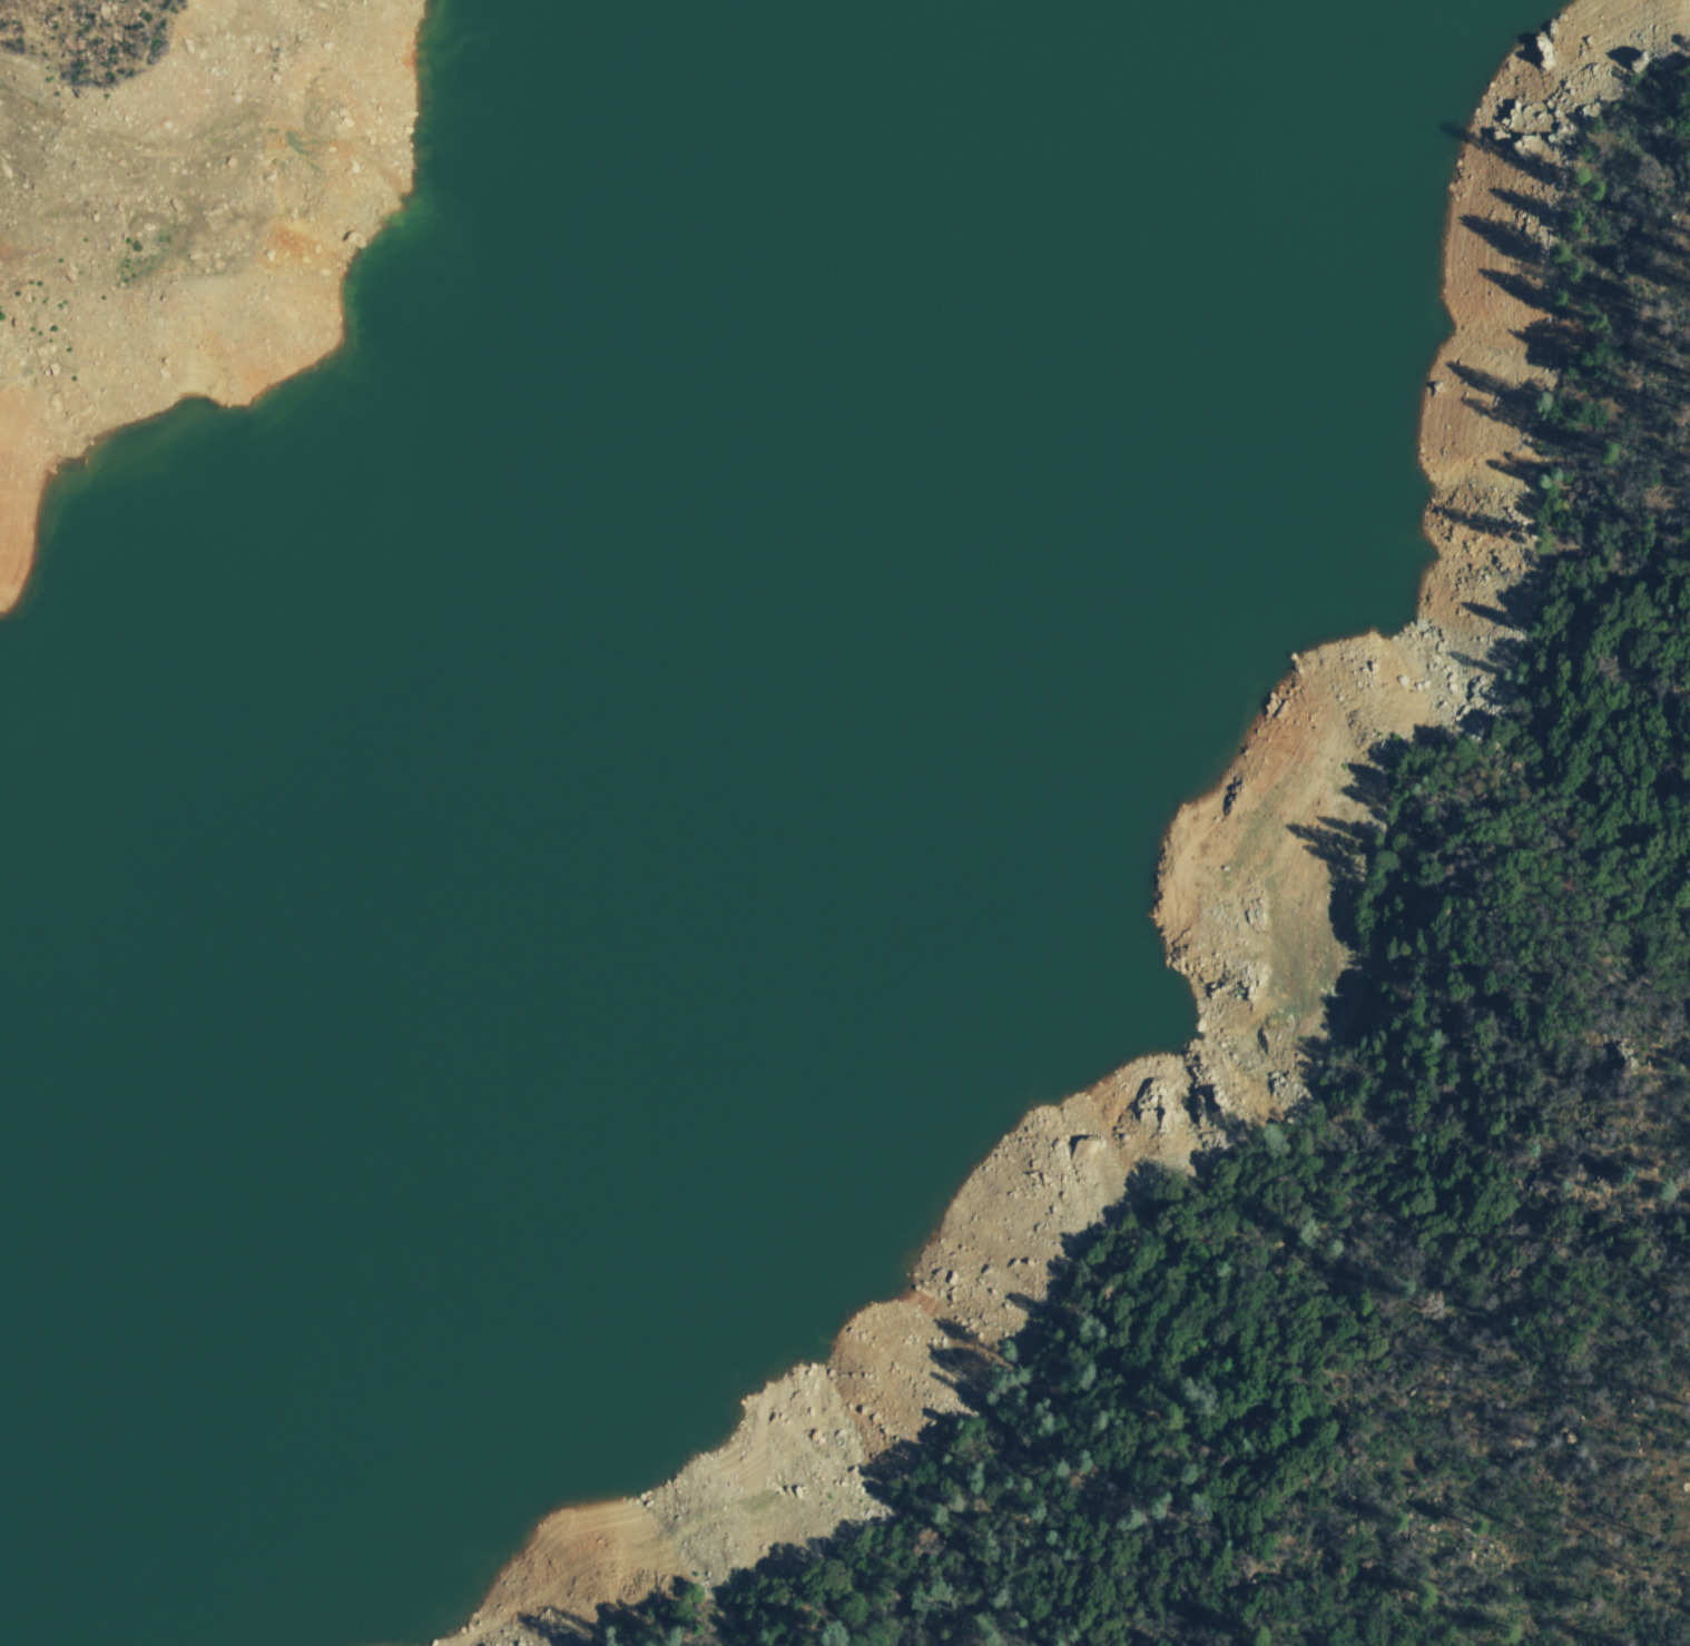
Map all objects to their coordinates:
river: (669, 270)
river: (264, 1047)

